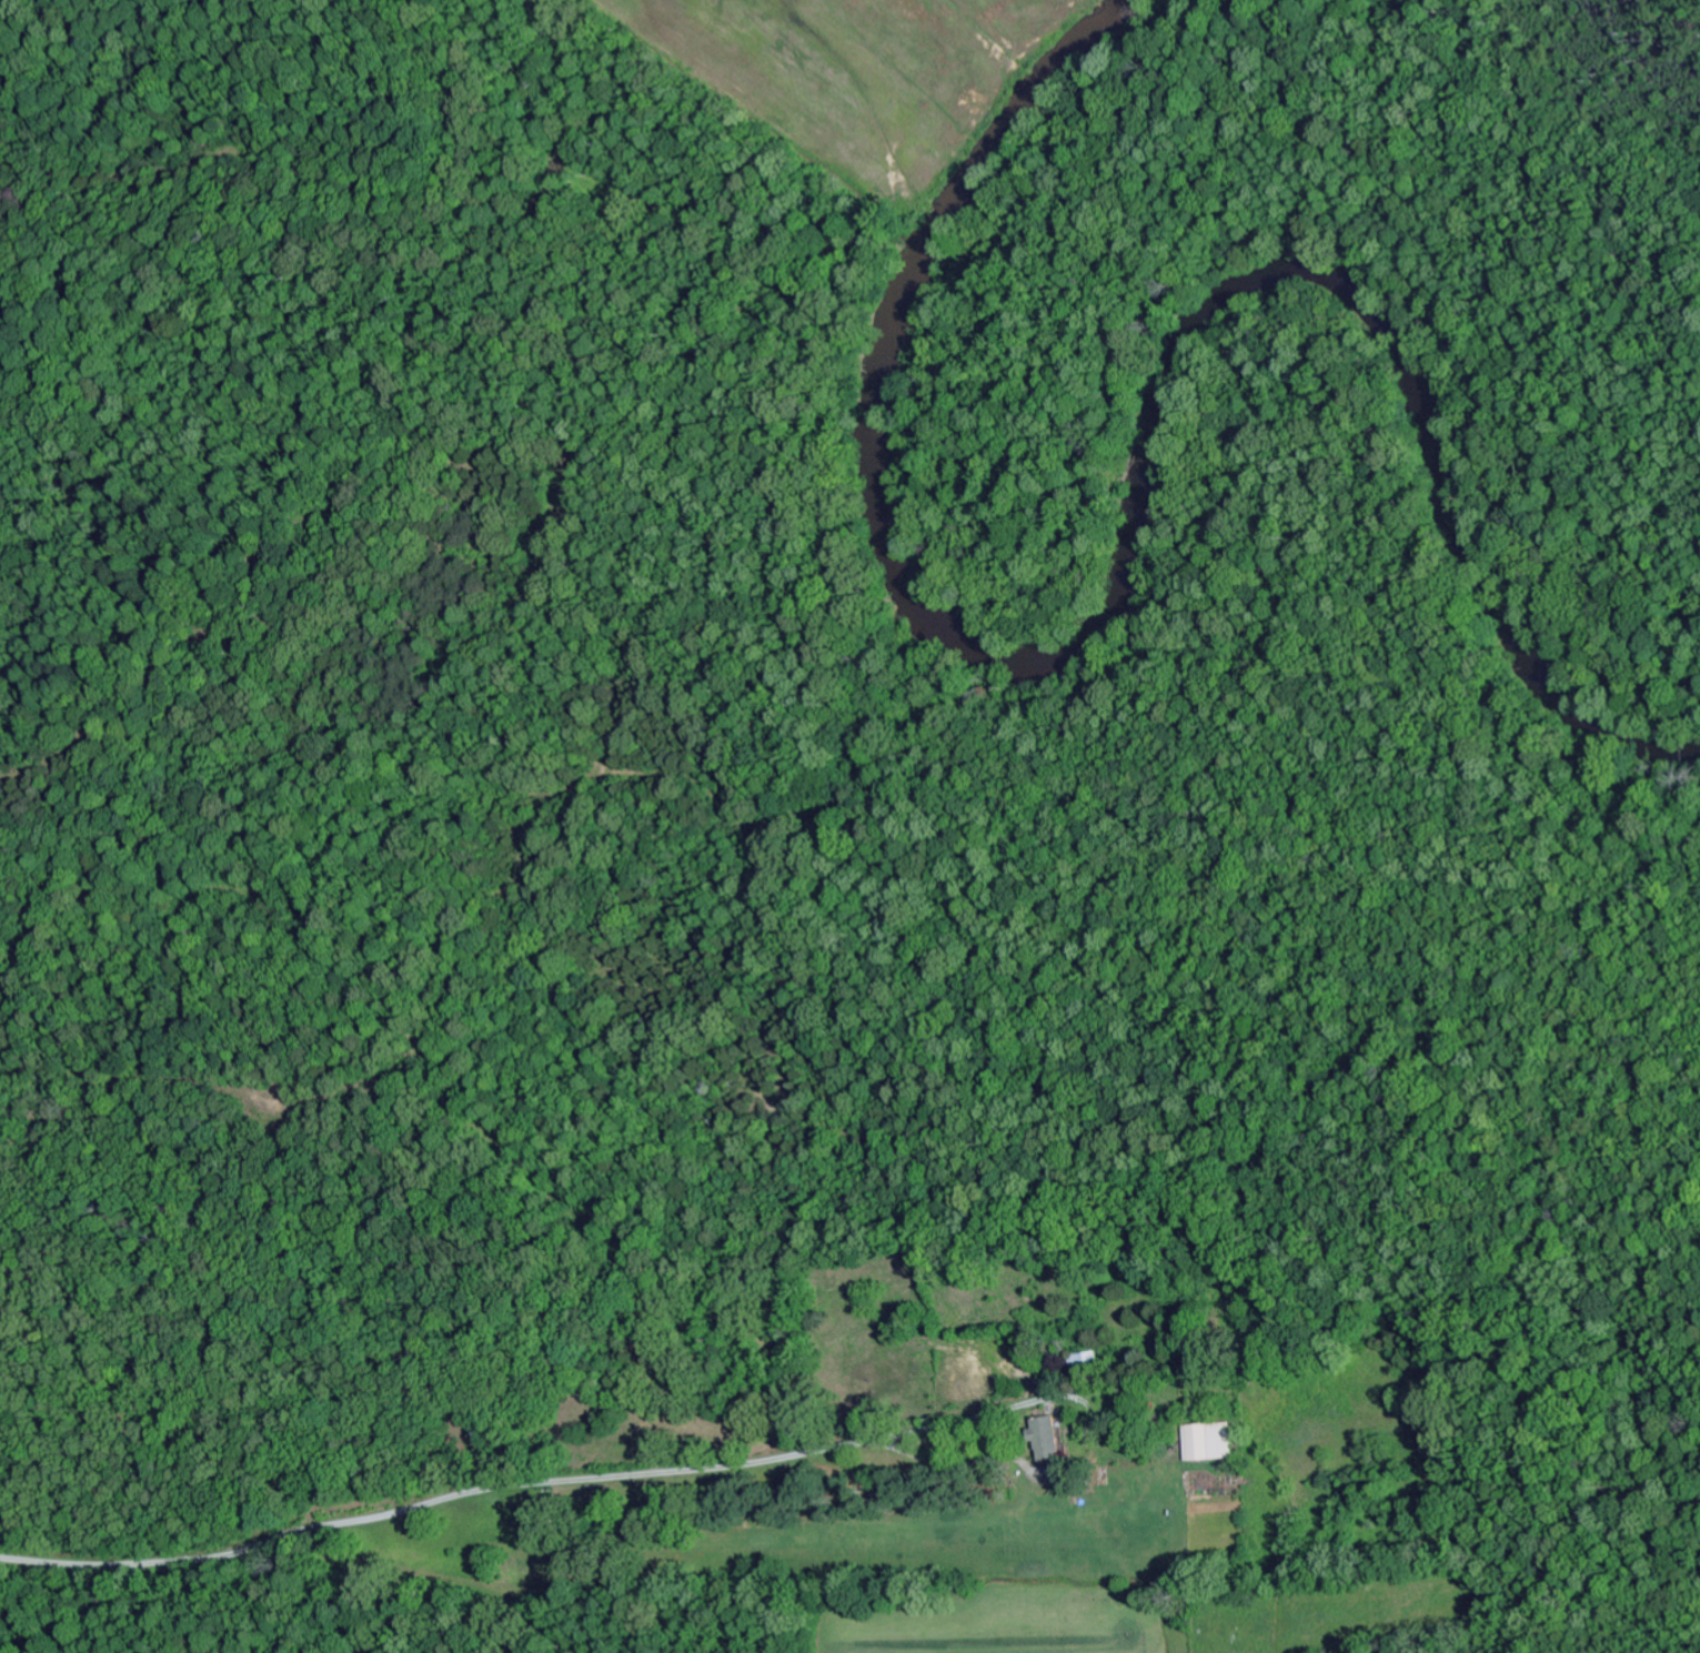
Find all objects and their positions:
building: (1047, 1439)
building: (1209, 1442)
road: (470, 1495)

